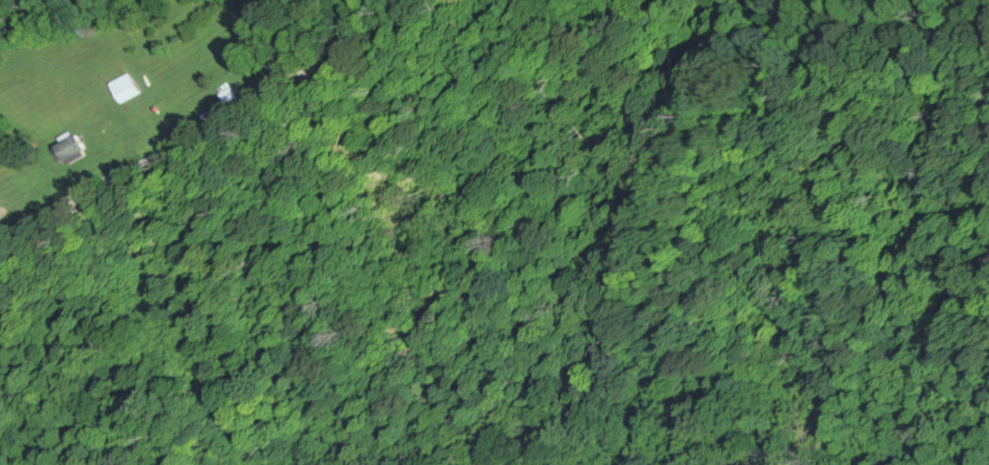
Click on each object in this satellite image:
building: (126, 87)
road: (238, 107)
building: (68, 148)
road: (32, 237)

